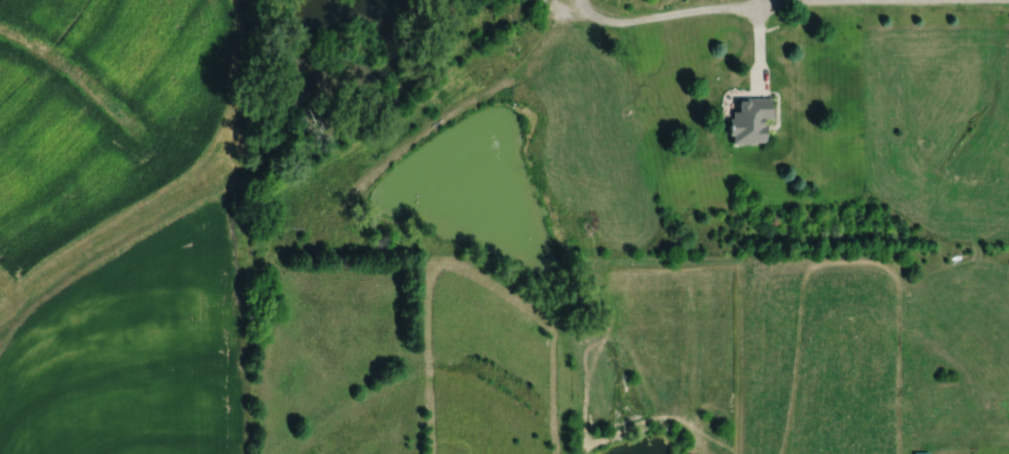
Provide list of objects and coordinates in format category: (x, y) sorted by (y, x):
road: (839, 4)
road: (669, 12)
building: (750, 120)
building: (941, 421)
dam: (622, 431)

